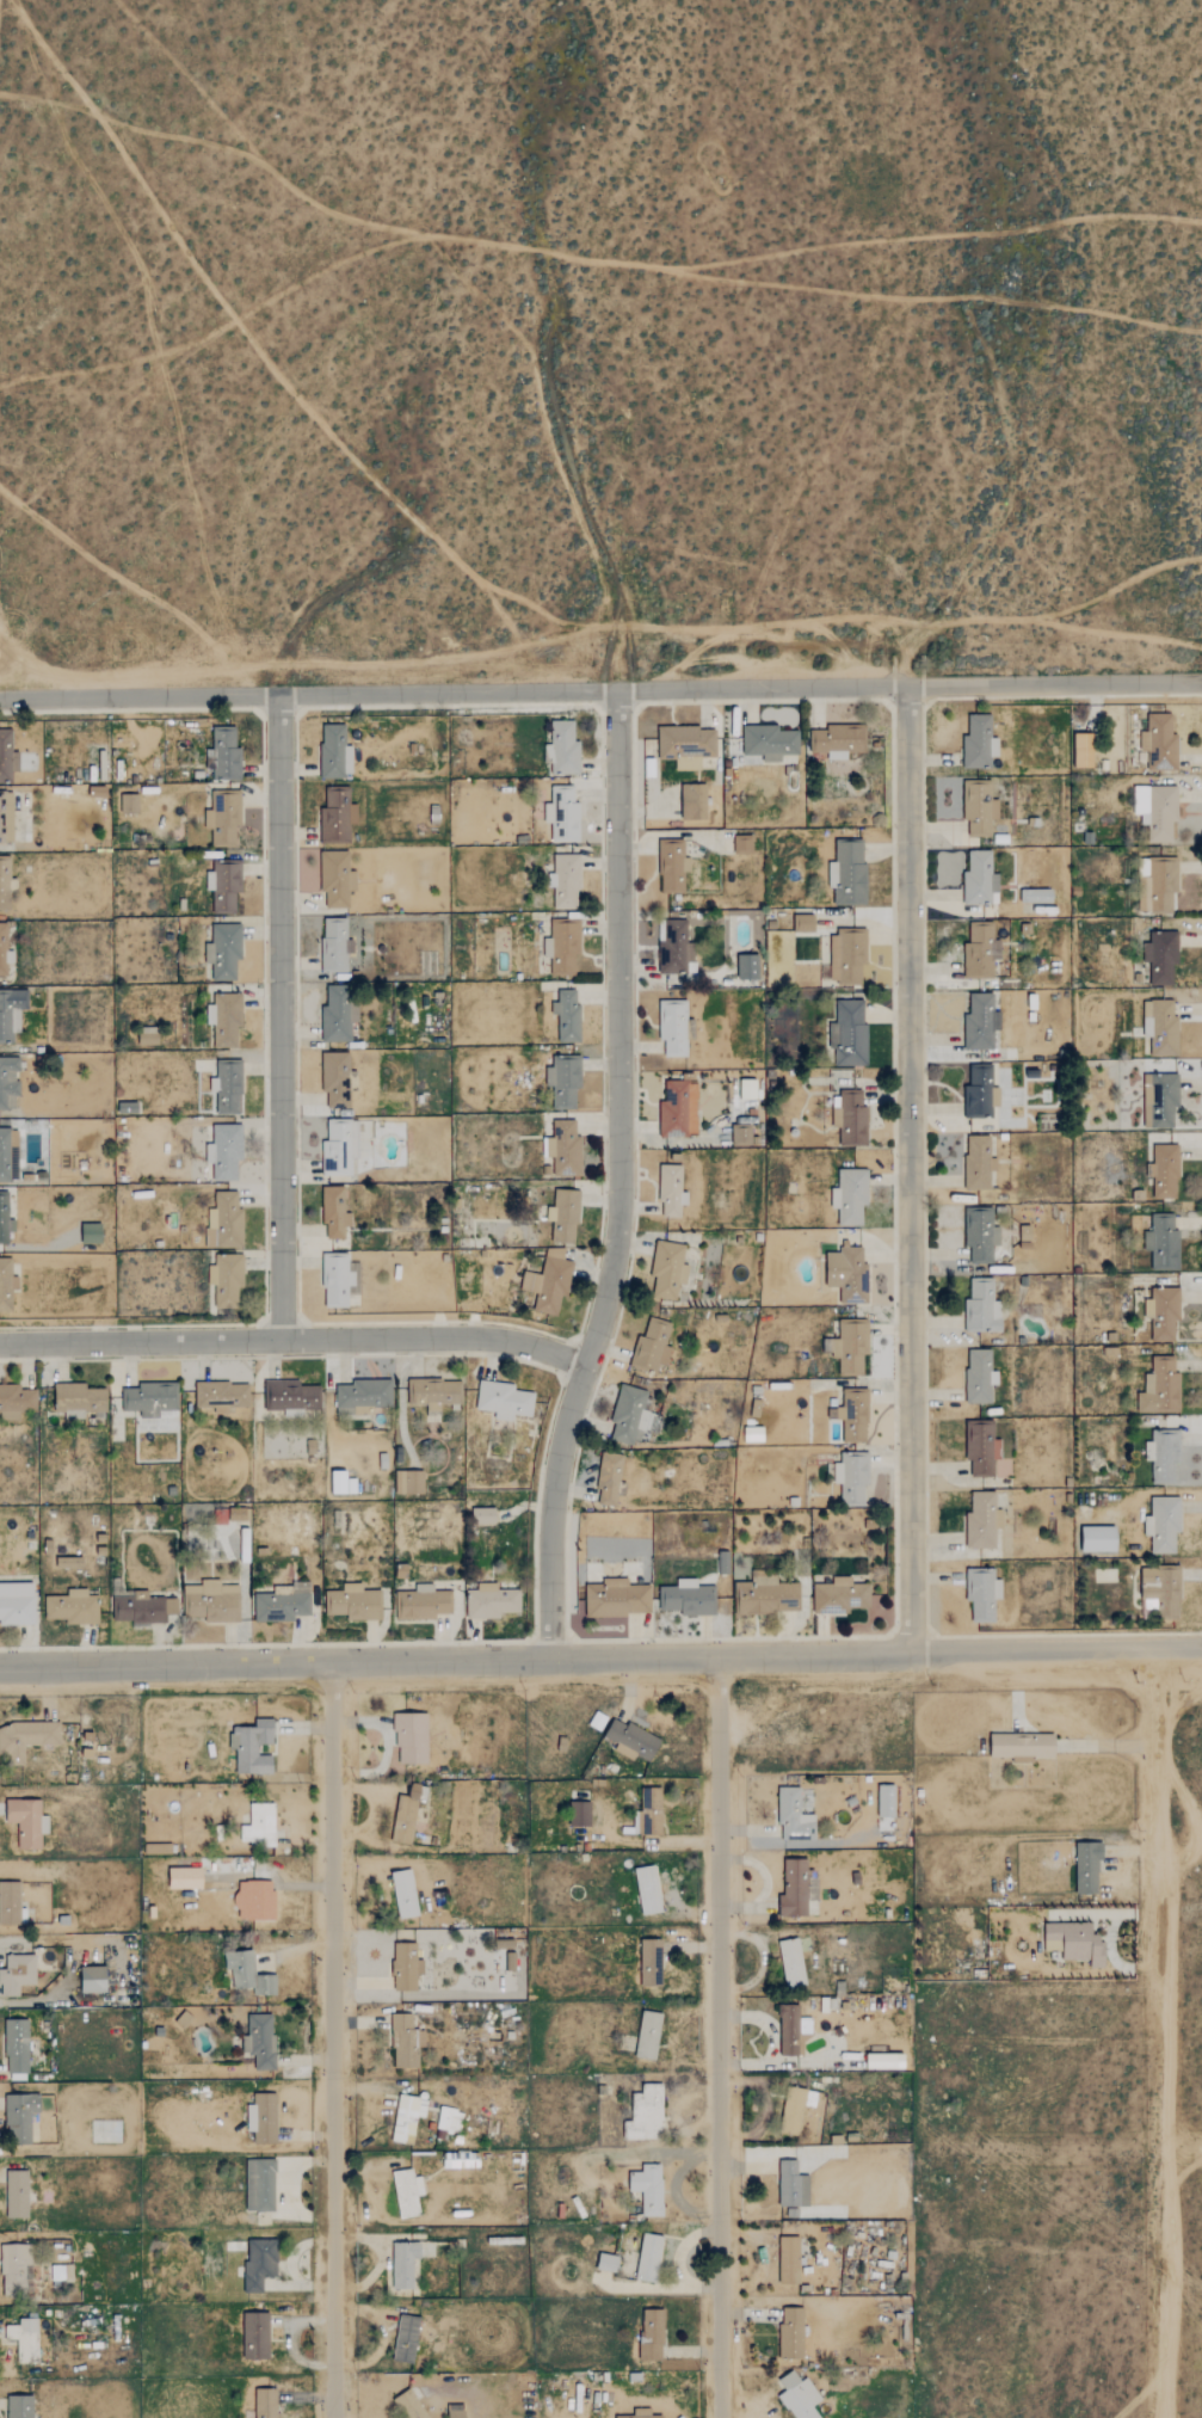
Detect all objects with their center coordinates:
road: (600, 691)
building: (838, 740)
building: (769, 742)
building: (979, 743)
building: (1160, 743)
building: (686, 745)
building: (563, 747)
building: (334, 752)
building: (223, 755)
building: (7, 756)
building: (694, 801)
building: (129, 804)
building: (979, 806)
building: (1157, 810)
building: (562, 813)
building: (7, 816)
building: (337, 816)
building: (223, 817)
building: (744, 843)
building: (672, 866)
building: (849, 872)
building: (335, 878)
building: (980, 880)
building: (566, 881)
building: (6, 884)
building: (1163, 884)
building: (224, 885)
building: (1036, 896)
building: (803, 923)
building: (334, 945)
building: (563, 946)
building: (676, 948)
building: (223, 950)
building: (981, 950)
building: (5, 952)
building: (847, 955)
building: (1163, 956)
building: (748, 967)
building: (11, 1013)
building: (338, 1014)
building: (567, 1016)
road: (281, 1017)
building: (227, 1019)
building: (981, 1022)
building: (674, 1027)
building: (1163, 1029)
building: (849, 1034)
building: (335, 1078)
building: (563, 1081)
building: (8, 1083)
building: (229, 1087)
building: (747, 1089)
building: (980, 1093)
building: (1160, 1100)
building: (128, 1108)
building: (678, 1109)
building: (851, 1118)
building: (741, 1133)
building: (340, 1146)
building: (563, 1149)
building: (227, 1151)
building: (8, 1155)
building: (979, 1162)
road: (910, 1168)
building: (1165, 1171)
road: (618, 1179)
building: (671, 1192)
building: (850, 1195)
building: (334, 1212)
building: (567, 1217)
building: (5, 1219)
building: (227, 1220)
building: (92, 1233)
building: (980, 1233)
building: (1163, 1242)
building: (668, 1269)
building: (847, 1274)
building: (339, 1279)
building: (227, 1280)
building: (549, 1280)
building: (7, 1285)
building: (982, 1306)
building: (1163, 1312)
road: (295, 1339)
building: (652, 1346)
building: (851, 1346)
building: (980, 1376)
building: (1160, 1388)
building: (364, 1393)
building: (436, 1393)
building: (290, 1395)
building: (222, 1396)
building: (149, 1398)
building: (79, 1399)
building: (504, 1401)
building: (16, 1402)
building: (630, 1415)
building: (852, 1415)
building: (753, 1434)
building: (982, 1448)
building: (1163, 1454)
building: (852, 1477)
building: (610, 1479)
building: (338, 1482)
building: (411, 1482)
building: (485, 1516)
building: (982, 1521)
building: (1164, 1524)
building: (1095, 1540)
building: (69, 1563)
building: (982, 1593)
building: (1161, 1593)
building: (766, 1596)
building: (839, 1596)
building: (688, 1598)
building: (616, 1599)
building: (211, 1601)
building: (492, 1601)
building: (355, 1602)
building: (423, 1602)
building: (17, 1605)
building: (283, 1605)
building: (73, 1607)
building: (144, 1610)
road: (600, 1657)
building: (27, 1737)
building: (412, 1737)
building: (631, 1739)
building: (1023, 1746)
building: (253, 1747)
building: (886, 1801)
building: (651, 1811)
building: (580, 1813)
building: (406, 1815)
building: (794, 1815)
building: (27, 1821)
building: (260, 1825)
building: (1087, 1865)
building: (185, 1877)
building: (797, 1887)
building: (648, 1889)
building: (405, 1893)
building: (255, 1899)
building: (11, 1902)
building: (1075, 1940)
building: (651, 1962)
building: (793, 1962)
building: (406, 1967)
building: (248, 1973)
building: (17, 1974)
building: (93, 1979)
building: (794, 2030)
road: (1161, 2031)
building: (648, 2035)
road: (722, 2037)
building: (260, 2039)
road: (335, 2039)
building: (406, 2041)
building: (17, 2049)
building: (1073, 2056)
building: (886, 2060)
building: (795, 2108)
building: (20, 2112)
building: (647, 2114)
building: (263, 2117)
building: (407, 2117)
building: (450, 2119)
building: (260, 2185)
building: (793, 2185)
building: (649, 2188)
building: (407, 2192)
building: (17, 2194)
building: (649, 2257)
building: (789, 2259)
building: (260, 2263)
building: (405, 2263)
building: (608, 2263)
building: (14, 2268)
building: (62, 2274)
building: (791, 2332)
building: (652, 2334)
building: (255, 2336)
building: (407, 2338)
building: (24, 2339)
building: (799, 2395)
building: (265, 2402)
building: (411, 2405)
building: (19, 2406)
building: (458, 2413)
building: (640, 2413)

